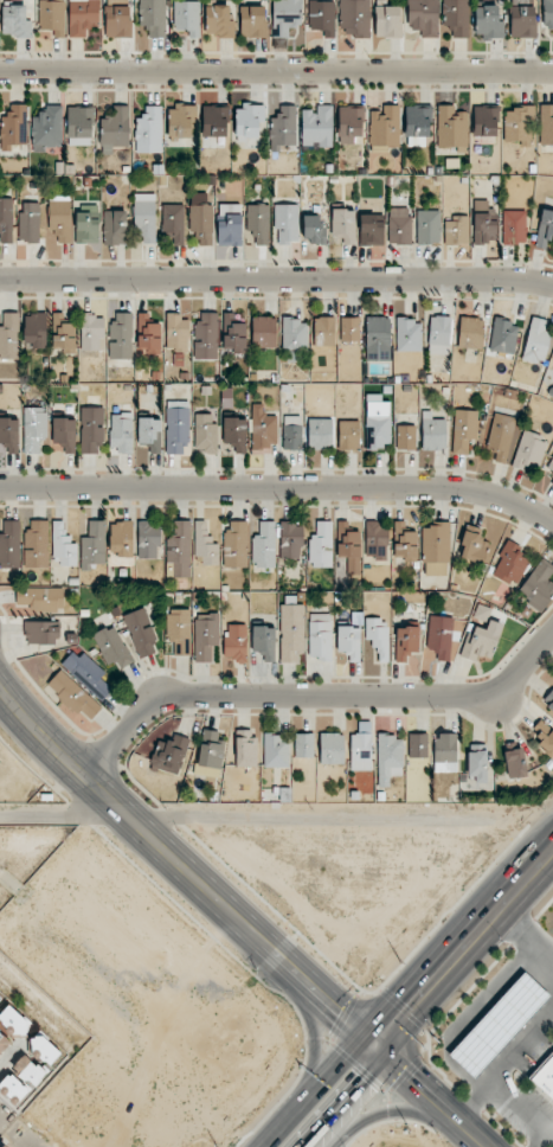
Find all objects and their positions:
building: (547, 13)
building: (52, 17)
building: (83, 17)
building: (153, 17)
building: (187, 17)
building: (285, 17)
building: (322, 17)
building: (423, 17)
building: (456, 17)
building: (354, 18)
building: (117, 19)
building: (522, 19)
building: (218, 20)
building: (15, 21)
building: (252, 21)
building: (387, 21)
building: (488, 21)
road: (276, 70)
building: (249, 120)
building: (181, 121)
building: (214, 121)
building: (486, 122)
building: (349, 123)
building: (546, 124)
building: (81, 126)
building: (385, 126)
building: (417, 126)
building: (519, 126)
building: (13, 127)
building: (317, 127)
building: (451, 127)
building: (47, 128)
building: (283, 128)
building: (115, 129)
building: (149, 130)
building: (144, 216)
building: (59, 218)
building: (6, 220)
building: (483, 220)
building: (30, 222)
building: (258, 222)
building: (174, 223)
building: (201, 223)
building: (230, 224)
building: (287, 224)
building: (343, 224)
building: (88, 225)
building: (399, 225)
building: (115, 226)
building: (427, 226)
building: (514, 226)
building: (371, 229)
building: (545, 229)
building: (313, 230)
building: (456, 230)
road: (276, 281)
building: (349, 328)
building: (36, 329)
building: (64, 332)
building: (91, 332)
building: (264, 332)
building: (323, 332)
building: (378, 332)
building: (178, 333)
building: (234, 333)
building: (470, 333)
building: (295, 334)
building: (9, 335)
building: (121, 335)
building: (148, 335)
building: (206, 335)
building: (409, 335)
building: (439, 335)
building: (503, 337)
building: (536, 340)
building: (378, 422)
building: (176, 427)
building: (34, 428)
building: (91, 429)
building: (464, 429)
building: (263, 430)
building: (432, 431)
building: (64, 432)
building: (121, 432)
building: (234, 432)
building: (291, 432)
building: (149, 434)
building: (205, 434)
building: (320, 434)
building: (348, 435)
building: (8, 436)
building: (501, 436)
building: (406, 437)
building: (529, 451)
building: (551, 464)
building: (552, 482)
road: (279, 488)
building: (121, 538)
building: (148, 539)
building: (291, 539)
building: (377, 540)
building: (405, 540)
building: (236, 543)
building: (9, 544)
building: (37, 544)
building: (94, 545)
building: (205, 545)
building: (264, 545)
building: (321, 545)
building: (472, 545)
building: (348, 546)
building: (180, 549)
building: (436, 549)
building: (509, 564)
building: (538, 585)
building: (41, 597)
building: (179, 629)
building: (41, 632)
building: (141, 633)
building: (291, 633)
building: (206, 635)
building: (320, 635)
building: (378, 636)
building: (442, 636)
building: (482, 640)
building: (236, 642)
building: (264, 642)
building: (349, 642)
building: (406, 642)
building: (112, 647)
building: (86, 673)
building: (73, 694)
road: (314, 698)
building: (548, 699)
building: (544, 736)
building: (303, 745)
building: (418, 745)
building: (361, 746)
building: (245, 748)
building: (332, 748)
building: (276, 750)
building: (445, 752)
building: (210, 754)
building: (169, 755)
building: (388, 758)
building: (476, 762)
building: (515, 763)
road: (255, 816)
road: (184, 872)
road: (526, 935)
road: (462, 951)
power tower: (398, 962)
building: (0, 998)
road: (30, 1005)
building: (13, 1020)
building: (500, 1025)
gas station: (500, 1025)
building: (4, 1042)
building: (43, 1049)
traffic signals: (371, 1051)
road: (503, 1065)
road: (310, 1074)
road: (360, 1076)
building: (542, 1076)
building: (20, 1081)
road: (310, 1092)
road: (424, 1098)
road: (525, 1111)
road: (386, 1114)
road: (328, 1123)
road: (549, 1129)
road: (549, 1135)
building: (4, 1146)

